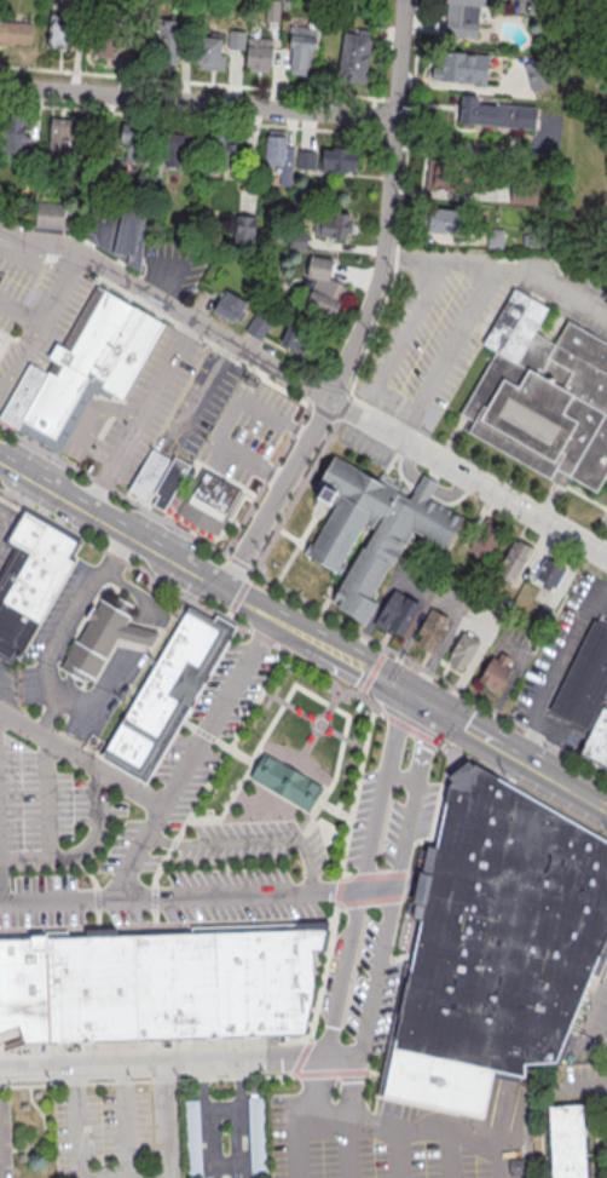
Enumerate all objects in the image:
building: (372, 2)
building: (183, 4)
building: (288, 4)
building: (82, 5)
building: (347, 8)
building: (273, 11)
building: (0, 16)
building: (463, 17)
building: (383, 19)
building: (60, 31)
building: (16, 34)
building: (164, 41)
building: (237, 41)
building: (108, 44)
building: (302, 50)
building: (210, 52)
building: (260, 54)
building: (355, 58)
building: (462, 69)
building: (537, 76)
road: (206, 85)
road: (198, 98)
building: (496, 115)
road: (203, 121)
building: (12, 138)
building: (63, 140)
building: (133, 142)
building: (175, 146)
building: (226, 153)
building: (281, 155)
building: (340, 160)
building: (307, 161)
building: (104, 162)
building: (156, 172)
building: (444, 176)
building: (524, 192)
building: (53, 216)
building: (444, 219)
building: (335, 226)
building: (121, 230)
building: (244, 230)
building: (278, 237)
building: (497, 240)
building: (300, 242)
building: (243, 251)
road: (403, 258)
road: (520, 269)
parking lot: (170, 270)
building: (323, 288)
parking lot: (39, 291)
road: (53, 299)
road: (170, 304)
building: (231, 308)
road: (366, 309)
road: (19, 311)
road: (561, 318)
parking lot: (464, 324)
building: (258, 328)
building: (0, 337)
building: (300, 341)
road: (369, 345)
road: (13, 367)
building: (88, 368)
road: (206, 385)
building: (23, 397)
building: (542, 397)
parking lot: (200, 403)
road: (406, 403)
road: (418, 410)
road: (140, 413)
parking lot: (135, 414)
road: (229, 418)
road: (86, 423)
road: (412, 429)
parking lot: (245, 433)
road: (452, 439)
parking lot: (370, 442)
road: (468, 476)
building: (150, 479)
building: (175, 483)
road: (585, 496)
road: (549, 501)
building: (212, 505)
road: (2, 519)
road: (114, 522)
parking lot: (603, 522)
building: (336, 539)
building: (487, 539)
building: (514, 559)
building: (550, 574)
building: (30, 579)
parking lot: (416, 580)
road: (238, 594)
parking lot: (453, 596)
road: (141, 597)
road: (302, 601)
road: (382, 601)
road: (250, 602)
building: (509, 602)
road: (446, 608)
building: (398, 614)
parking lot: (486, 615)
building: (545, 615)
building: (433, 633)
road: (312, 637)
parking lot: (561, 639)
road: (137, 640)
parking lot: (520, 640)
building: (106, 642)
building: (464, 650)
road: (475, 656)
road: (45, 662)
road: (303, 663)
road: (370, 671)
road: (555, 672)
road: (376, 673)
building: (498, 673)
building: (584, 682)
road: (510, 684)
building: (168, 690)
traffic signals: (416, 696)
road: (418, 697)
parking lot: (605, 700)
road: (340, 712)
road: (318, 726)
road: (322, 726)
road: (479, 734)
road: (531, 740)
building: (597, 740)
road: (215, 742)
park: (293, 762)
road: (215, 769)
road: (542, 769)
road: (400, 780)
building: (287, 781)
road: (571, 786)
road: (172, 792)
road: (47, 799)
road: (595, 799)
road: (226, 804)
road: (331, 810)
road: (155, 821)
parking lot: (144, 831)
road: (158, 840)
road: (262, 840)
road: (83, 851)
road: (364, 872)
road: (398, 875)
parking lot: (380, 887)
road: (94, 890)
road: (339, 890)
road: (352, 891)
road: (181, 897)
road: (152, 898)
road: (63, 902)
road: (152, 919)
road: (93, 929)
building: (496, 946)
building: (308, 964)
building: (288, 982)
building: (264, 983)
building: (207, 984)
building: (235, 984)
building: (166, 986)
building: (59, 987)
building: (103, 987)
building: (24, 992)
road: (595, 1016)
parking lot: (590, 1030)
road: (296, 1040)
road: (343, 1055)
road: (161, 1061)
road: (526, 1068)
road: (125, 1078)
road: (203, 1078)
road: (75, 1079)
road: (353, 1081)
road: (13, 1086)
road: (313, 1086)
road: (579, 1090)
building: (37, 1096)
road: (221, 1105)
building: (25, 1108)
road: (320, 1116)
road: (167, 1119)
road: (497, 1125)
road: (420, 1127)
road: (41, 1132)
parking lot: (104, 1136)
road: (127, 1136)
road: (77, 1137)
building: (258, 1137)
parking lot: (6, 1139)
building: (193, 1139)
parking lot: (369, 1142)
building: (568, 1142)
road: (296, 1147)
road: (347, 1148)
road: (397, 1151)
road: (446, 1154)
building: (23, 1159)
road: (222, 1163)
road: (161, 1176)
road: (141, 1177)

